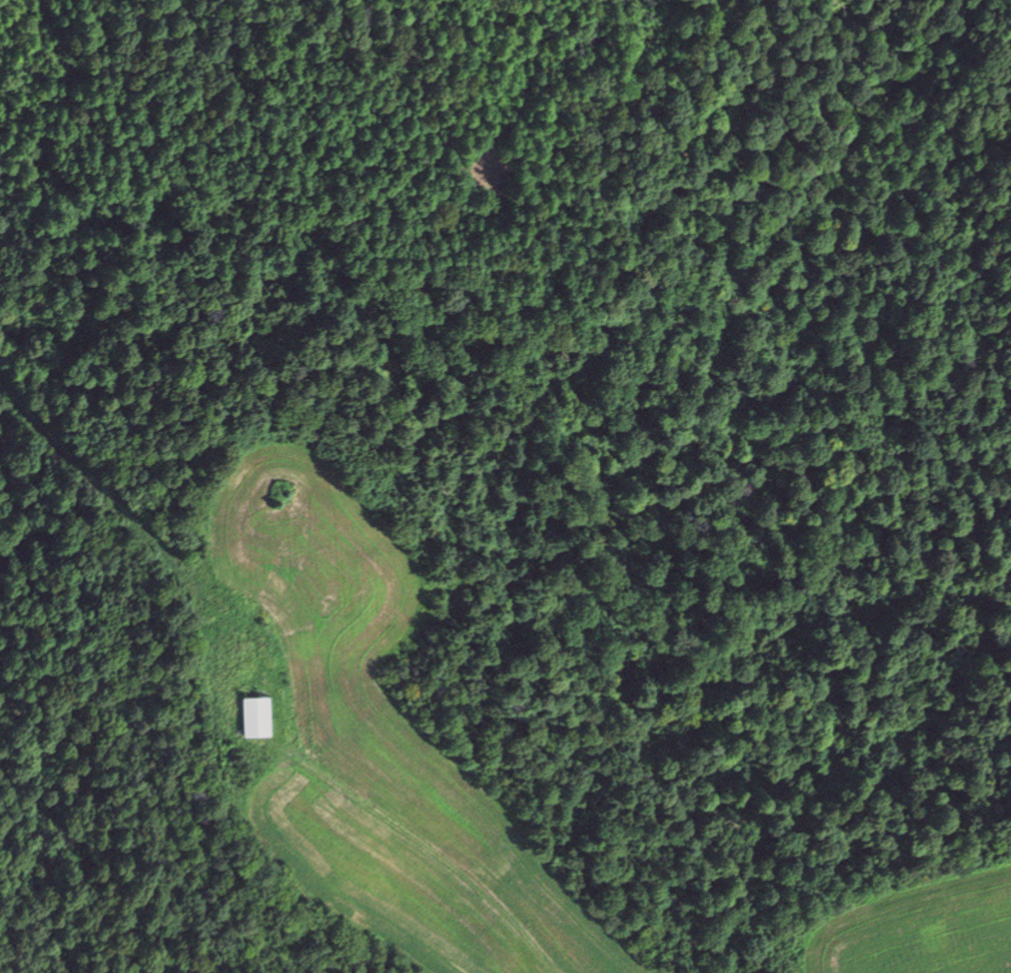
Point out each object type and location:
road: (425, 845)

